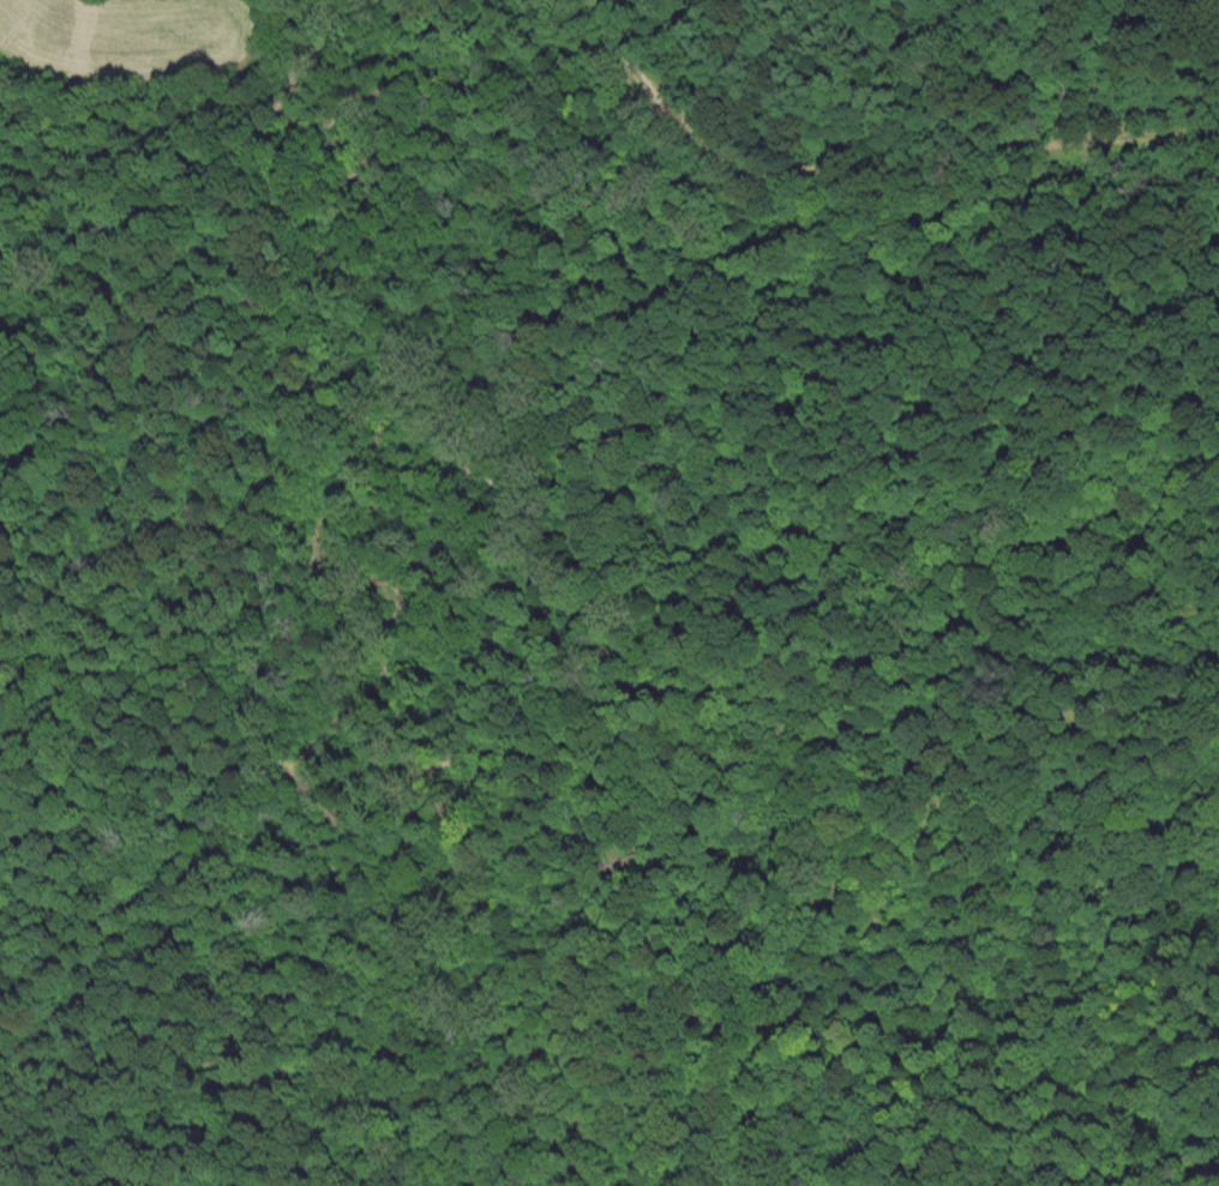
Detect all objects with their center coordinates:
road: (863, 203)

